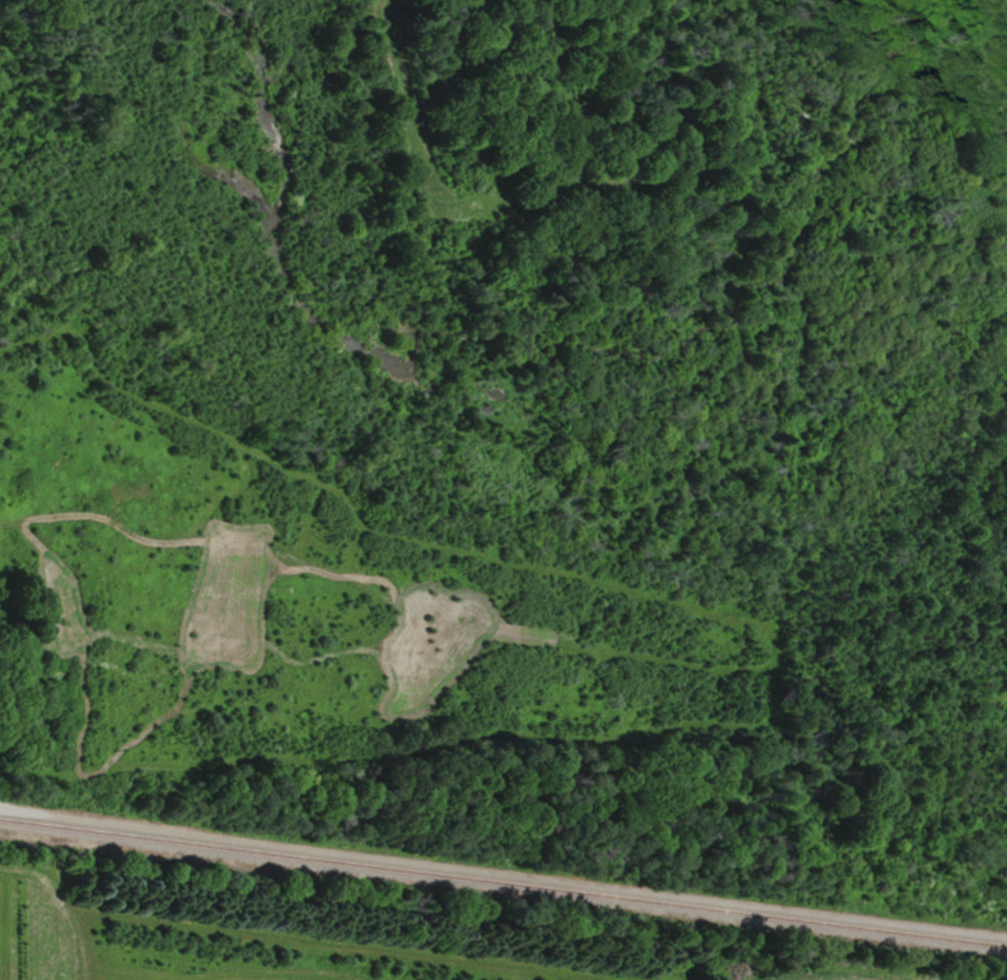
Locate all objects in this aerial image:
railway: (503, 881)

